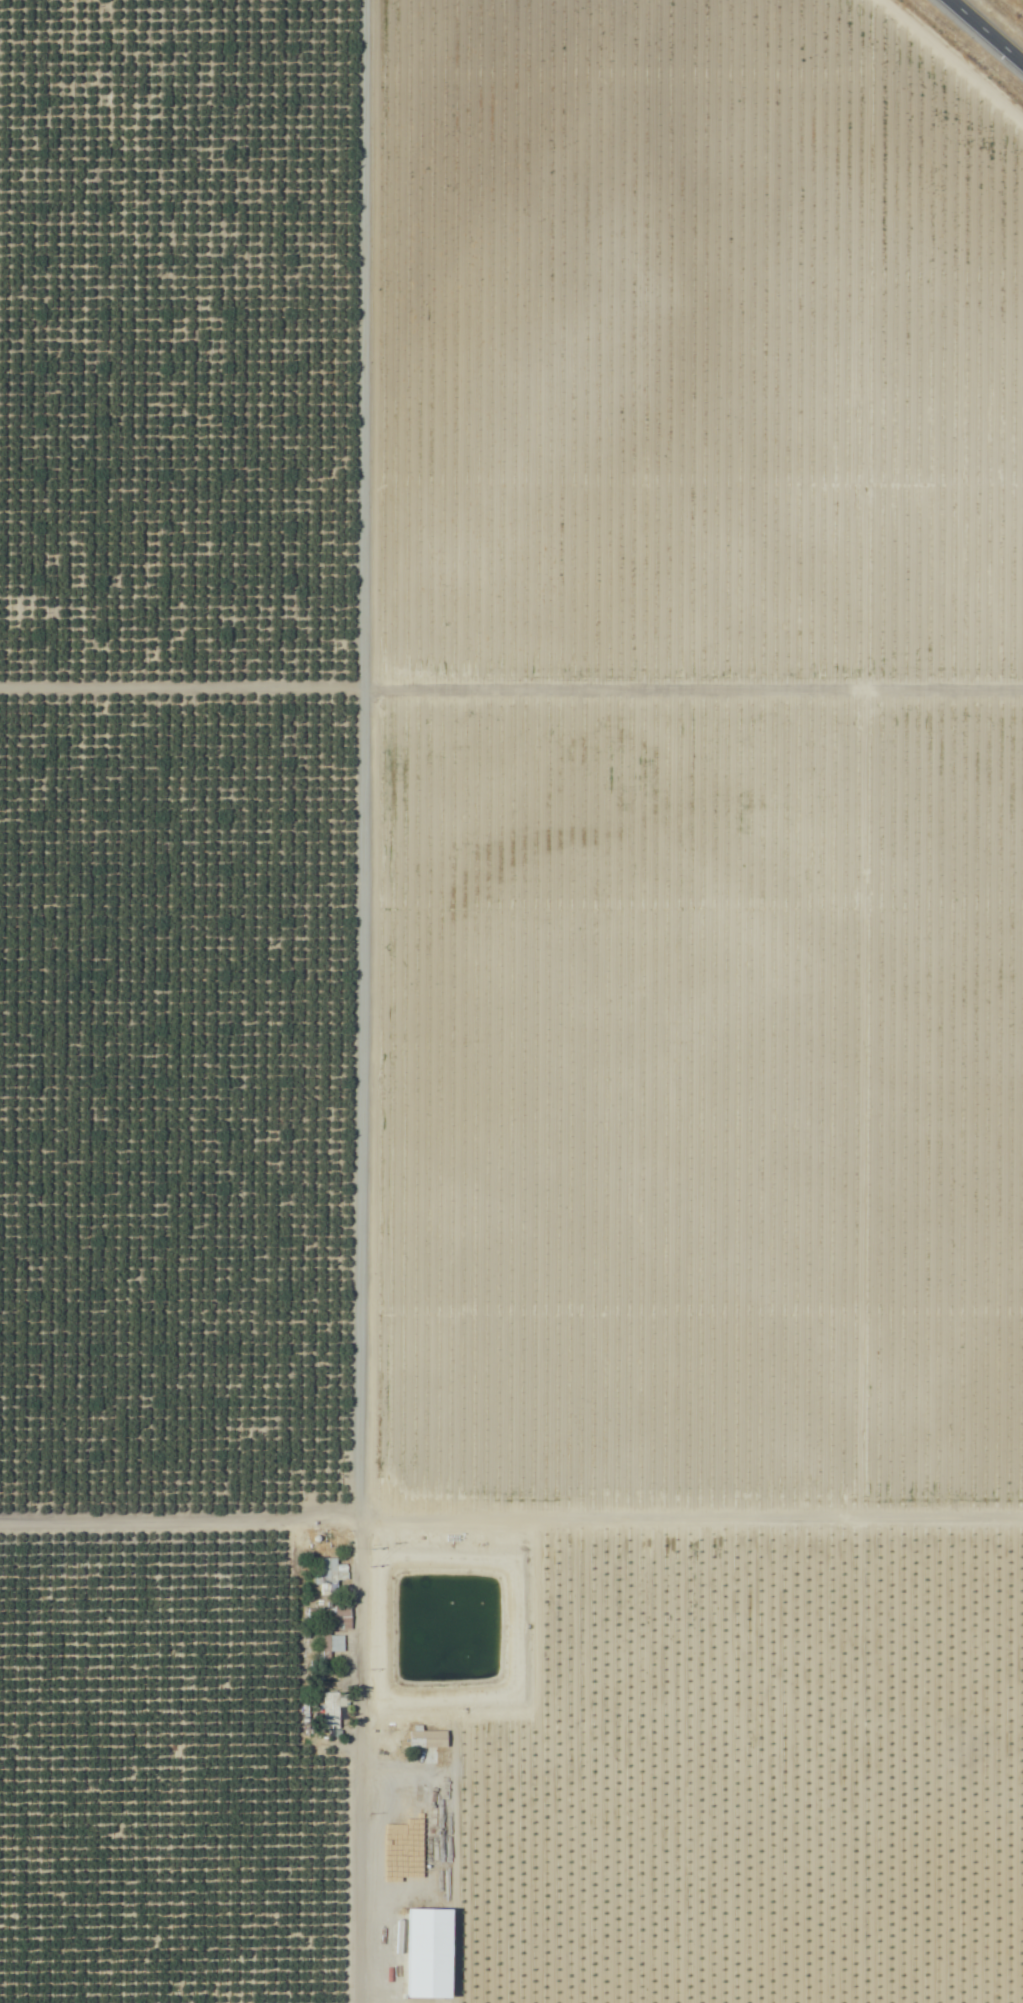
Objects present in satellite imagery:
road: (984, 33)
crop: (508, 1007)
road: (324, 1562)
building: (330, 1576)
building: (336, 1613)
building: (331, 1647)
building: (437, 1703)
building: (330, 1712)
building: (430, 1739)
building: (431, 1953)

